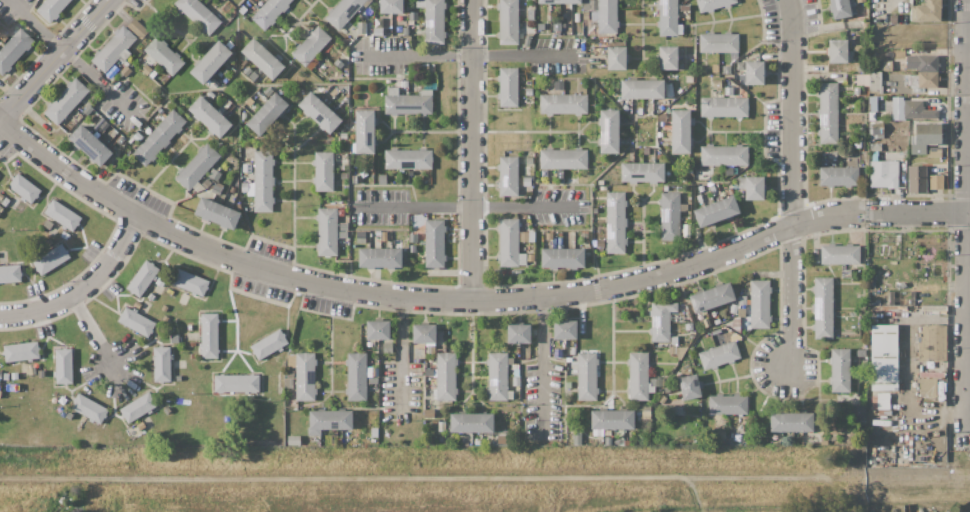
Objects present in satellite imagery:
building: (255, 0)
building: (560, 1)
building: (862, 1)
building: (916, 2)
building: (713, 4)
building: (391, 6)
building: (685, 8)
building: (843, 8)
building: (52, 9)
building: (929, 11)
building: (269, 12)
building: (343, 13)
building: (531, 14)
building: (199, 15)
building: (586, 15)
building: (412, 16)
building: (577, 17)
building: (594, 17)
building: (607, 17)
building: (667, 17)
building: (893, 18)
building: (433, 20)
building: (508, 21)
building: (411, 23)
building: (541, 25)
building: (138, 28)
building: (361, 28)
building: (377, 28)
building: (557, 28)
building: (680, 29)
building: (405, 31)
building: (4, 37)
building: (145, 40)
building: (527, 40)
building: (718, 42)
building: (229, 44)
building: (311, 46)
building: (115, 48)
building: (436, 48)
building: (14, 50)
building: (597, 51)
building: (602, 51)
building: (840, 51)
building: (164, 55)
road: (468, 55)
building: (687, 56)
road: (70, 57)
building: (668, 57)
building: (263, 58)
building: (617, 58)
road: (53, 59)
building: (211, 62)
building: (337, 62)
building: (312, 63)
building: (340, 65)
building: (740, 65)
building: (887, 66)
building: (681, 67)
building: (424, 68)
building: (431, 68)
building: (715, 68)
building: (862, 68)
building: (924, 69)
building: (125, 70)
building: (247, 71)
building: (113, 72)
building: (754, 72)
building: (219, 74)
building: (251, 76)
building: (224, 78)
building: (913, 81)
building: (164, 82)
building: (406, 82)
building: (874, 82)
building: (717, 83)
building: (559, 85)
building: (583, 86)
building: (508, 87)
building: (642, 89)
building: (667, 90)
building: (856, 90)
building: (528, 91)
building: (728, 91)
building: (210, 94)
building: (66, 101)
building: (249, 101)
building: (408, 102)
building: (563, 104)
building: (873, 104)
building: (860, 105)
building: (724, 106)
building: (879, 107)
building: (626, 108)
building: (898, 108)
building: (86, 109)
building: (658, 109)
building: (918, 110)
building: (640, 111)
road: (792, 111)
building: (319, 112)
building: (162, 114)
building: (267, 114)
building: (828, 114)
building: (77, 116)
building: (210, 116)
building: (244, 116)
building: (161, 118)
building: (662, 124)
building: (68, 125)
building: (104, 125)
building: (90, 126)
building: (878, 129)
building: (609, 131)
building: (680, 131)
building: (365, 132)
building: (113, 133)
building: (928, 133)
building: (96, 134)
building: (659, 134)
building: (343, 136)
building: (159, 137)
building: (913, 139)
building: (120, 140)
building: (130, 140)
building: (90, 145)
building: (109, 145)
building: (872, 147)
road: (472, 150)
building: (645, 150)
building: (934, 152)
building: (906, 154)
building: (724, 155)
building: (833, 155)
building: (877, 155)
building: (408, 159)
building: (563, 159)
building: (529, 160)
building: (197, 166)
building: (245, 167)
building: (343, 168)
building: (689, 169)
building: (323, 170)
building: (526, 170)
building: (729, 171)
building: (735, 171)
building: (642, 172)
building: (549, 173)
building: (884, 173)
building: (704, 174)
building: (215, 175)
building: (342, 176)
building: (508, 176)
building: (839, 176)
building: (400, 178)
building: (357, 179)
building: (382, 179)
building: (918, 179)
building: (427, 180)
building: (571, 180)
building: (584, 180)
building: (263, 181)
building: (527, 181)
building: (532, 181)
building: (600, 182)
building: (936, 182)
building: (206, 183)
building: (198, 186)
building: (729, 186)
building: (245, 187)
building: (753, 187)
building: (24, 188)
building: (603, 188)
building: (665, 188)
building: (701, 188)
building: (712, 188)
building: (216, 189)
building: (233, 190)
building: (729, 191)
building: (1, 196)
building: (699, 198)
building: (5, 201)
building: (12, 205)
road: (466, 207)
building: (684, 207)
building: (1, 208)
building: (20, 209)
building: (716, 211)
building: (217, 213)
road: (917, 213)
road: (969, 213)
building: (63, 215)
road: (828, 215)
building: (670, 216)
road: (968, 219)
building: (44, 220)
building: (615, 223)
building: (343, 227)
building: (327, 232)
building: (377, 233)
building: (560, 234)
building: (343, 235)
building: (384, 236)
building: (360, 237)
building: (524, 237)
building: (413, 238)
building: (583, 238)
building: (422, 242)
building: (508, 242)
building: (434, 243)
building: (560, 243)
building: (600, 243)
building: (413, 249)
building: (840, 253)
building: (380, 257)
building: (531, 257)
building: (563, 258)
building: (51, 259)
road: (109, 261)
building: (10, 273)
building: (142, 278)
building: (872, 278)
building: (190, 282)
building: (170, 293)
road: (380, 295)
road: (792, 295)
building: (151, 296)
building: (712, 297)
building: (742, 300)
building: (878, 301)
building: (884, 301)
building: (747, 302)
building: (759, 304)
building: (164, 308)
building: (823, 308)
building: (733, 309)
road: (37, 311)
building: (741, 312)
building: (712, 314)
building: (676, 317)
building: (166, 319)
building: (661, 320)
building: (875, 320)
building: (717, 321)
building: (136, 322)
building: (706, 323)
building: (736, 324)
building: (189, 327)
building: (689, 327)
building: (378, 330)
building: (565, 330)
building: (720, 331)
building: (533, 332)
building: (424, 333)
building: (519, 333)
road: (94, 334)
building: (209, 335)
building: (171, 338)
building: (674, 340)
building: (932, 342)
building: (193, 344)
building: (269, 344)
building: (371, 344)
building: (419, 345)
building: (525, 346)
building: (388, 347)
building: (431, 350)
building: (572, 350)
building: (21, 351)
building: (677, 351)
road: (402, 354)
building: (719, 355)
building: (192, 356)
building: (884, 357)
building: (92, 358)
building: (866, 358)
building: (569, 359)
building: (417, 361)
building: (510, 361)
building: (162, 363)
building: (291, 363)
road: (541, 364)
building: (63, 366)
building: (32, 370)
building: (840, 370)
building: (937, 370)
building: (270, 371)
building: (429, 372)
building: (516, 372)
building: (14, 375)
building: (934, 375)
building: (6, 376)
building: (305, 376)
building: (358, 376)
building: (498, 376)
building: (587, 376)
building: (638, 376)
building: (178, 377)
building: (446, 377)
building: (373, 381)
building: (516, 381)
building: (656, 382)
building: (236, 383)
building: (290, 383)
building: (917, 383)
building: (568, 385)
building: (690, 386)
building: (929, 386)
building: (901, 387)
building: (510, 395)
building: (889, 397)
building: (662, 399)
building: (728, 404)
building: (64, 405)
building: (892, 405)
building: (138, 407)
building: (89, 408)
building: (167, 410)
building: (642, 410)
building: (675, 410)
building: (885, 410)
building: (858, 412)
building: (429, 413)
building: (885, 418)
building: (612, 419)
building: (227, 420)
building: (329, 421)
building: (792, 422)
building: (473, 423)
building: (892, 425)
building: (441, 426)
building: (447, 426)
building: (598, 431)
building: (374, 432)
building: (334, 433)
building: (720, 435)
building: (940, 435)
building: (577, 438)
building: (294, 440)
building: (918, 440)
building: (478, 441)
building: (467, 442)
building: (608, 442)
building: (626, 442)
building: (616, 443)

